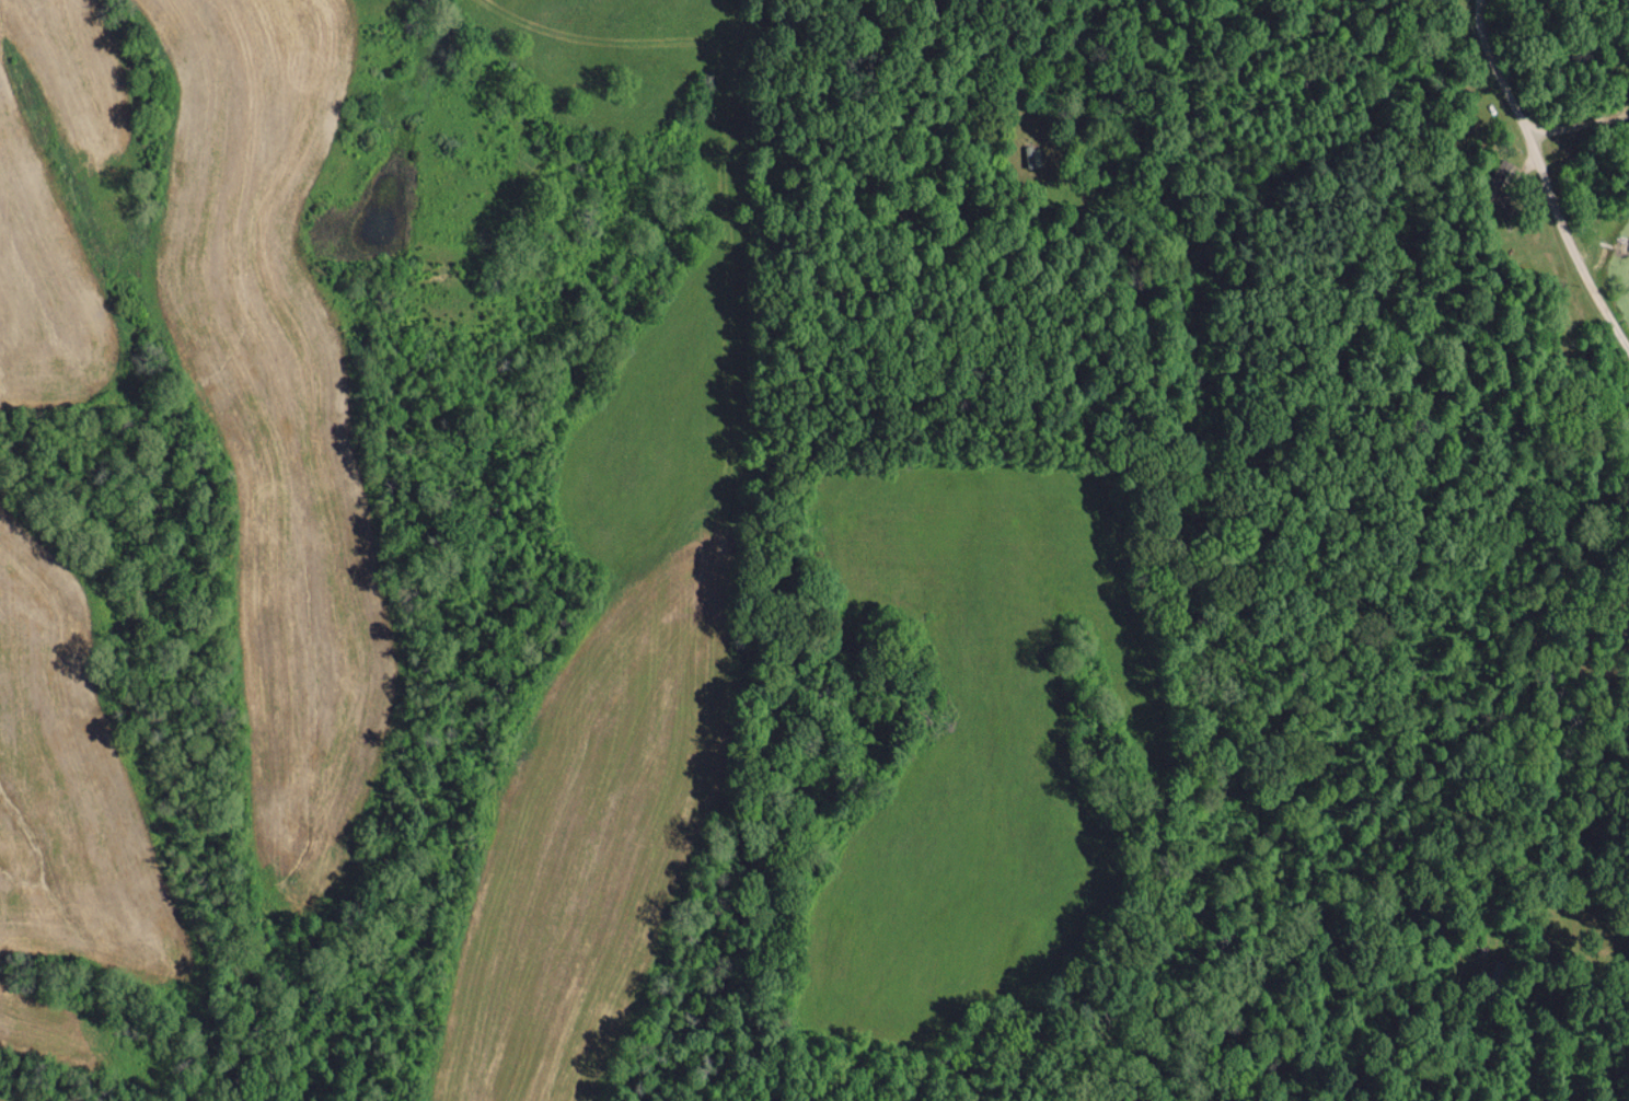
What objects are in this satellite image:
road: (1578, 120)
road: (1548, 178)

